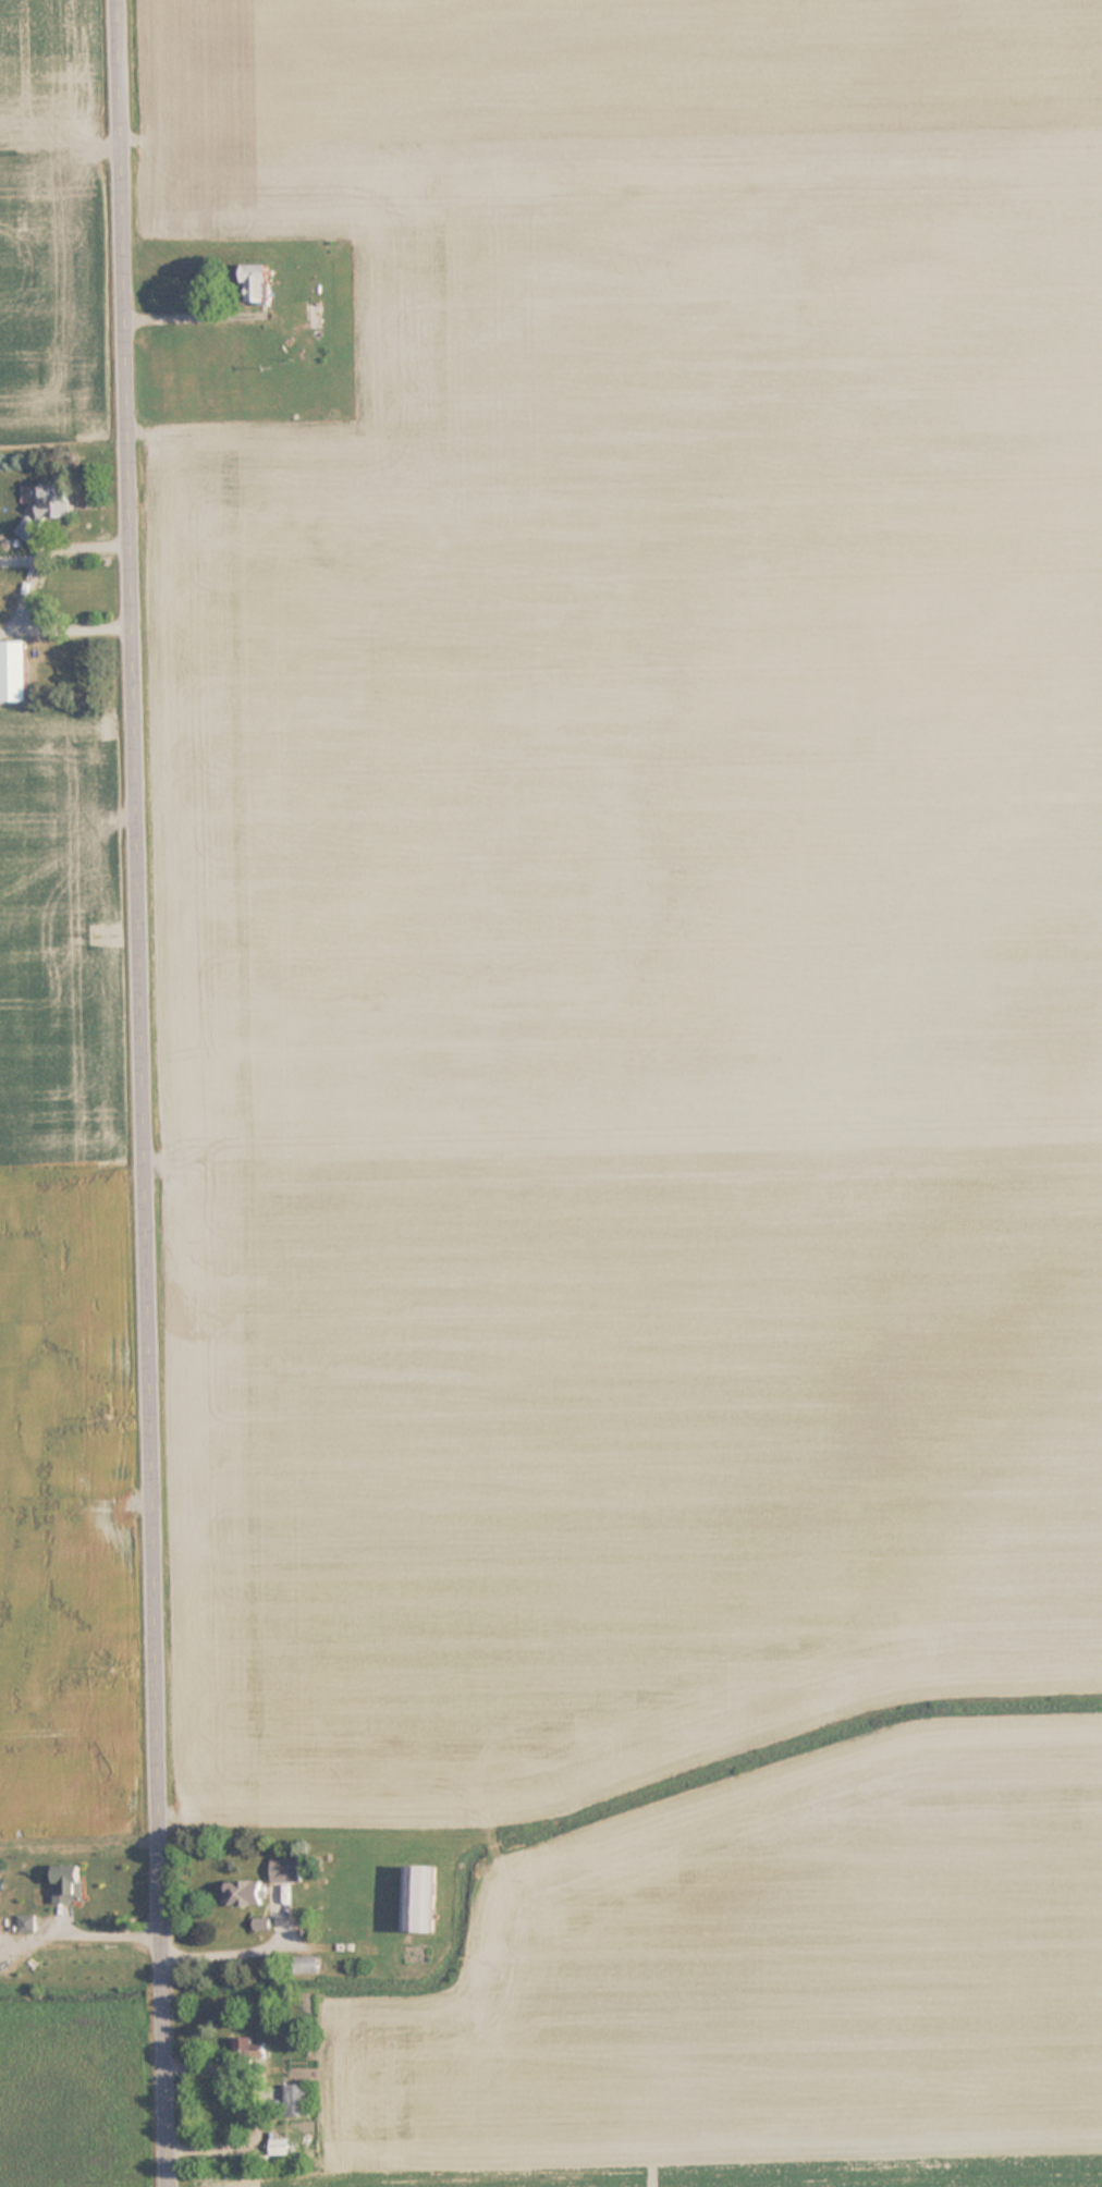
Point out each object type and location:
building: (259, 282)
building: (56, 499)
building: (14, 670)
road: (149, 1093)
building: (286, 1870)
building: (70, 1884)
building: (244, 1894)
building: (421, 1898)
building: (27, 1923)
building: (254, 2050)
building: (298, 2100)
building: (280, 2142)

